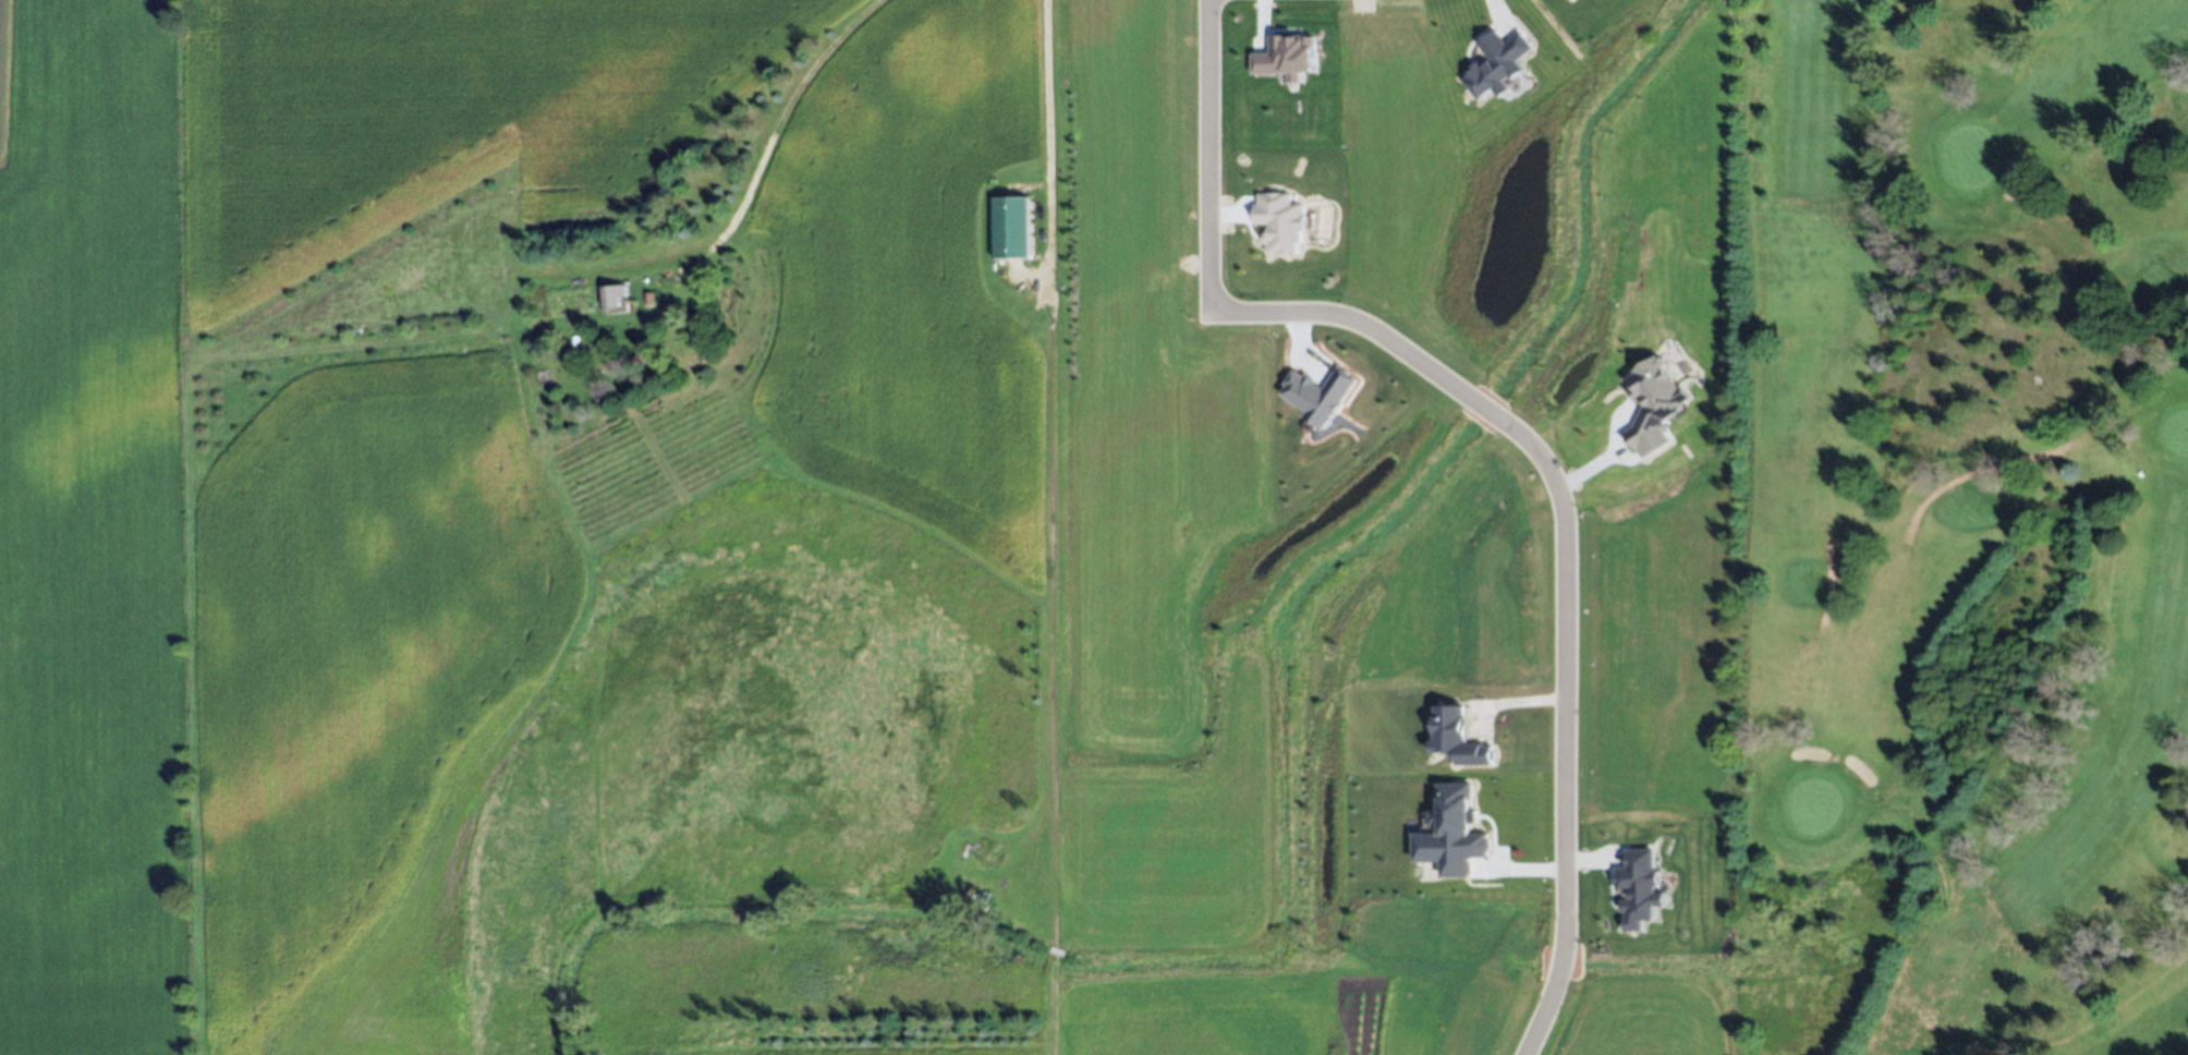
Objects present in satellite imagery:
building: (1287, 58)
building: (1498, 65)
road: (786, 107)
road: (1206, 154)
building: (1279, 222)
building: (1014, 226)
building: (611, 299)
road: (2141, 335)
building: (1317, 396)
building: (1653, 405)
road: (1969, 473)
road: (1049, 527)
park: (1961, 527)
road: (1565, 565)
road: (1828, 587)
building: (1458, 738)
building: (1454, 834)
building: (1642, 889)

